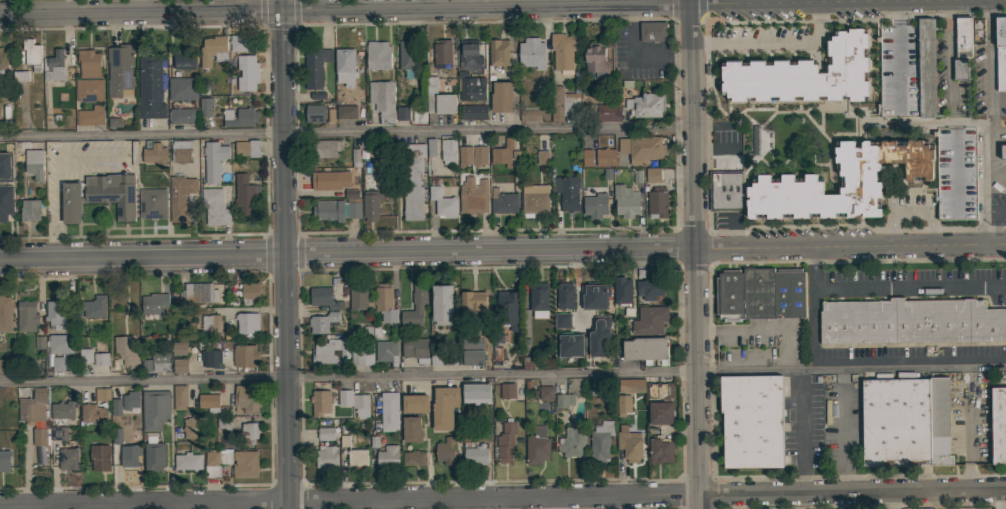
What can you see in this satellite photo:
road: (926, 0)
road: (140, 6)
road: (494, 7)
building: (652, 31)
building: (1001, 33)
building: (963, 38)
building: (243, 42)
road: (770, 42)
building: (213, 50)
building: (499, 53)
building: (531, 53)
building: (32, 54)
building: (442, 54)
building: (564, 54)
building: (378, 55)
building: (469, 55)
building: (408, 56)
building: (184, 59)
building: (595, 59)
building: (89, 64)
building: (3, 65)
building: (54, 66)
building: (314, 67)
building: (344, 68)
building: (926, 68)
building: (960, 69)
building: (120, 70)
building: (1001, 70)
building: (247, 72)
building: (803, 74)
building: (20, 76)
building: (151, 88)
building: (471, 88)
building: (182, 89)
building: (89, 90)
building: (317, 96)
building: (501, 97)
building: (439, 99)
building: (383, 100)
building: (563, 103)
building: (205, 106)
building: (645, 107)
building: (588, 109)
building: (0, 111)
building: (346, 112)
building: (474, 112)
building: (607, 113)
building: (402, 114)
building: (419, 114)
building: (313, 115)
building: (530, 115)
building: (91, 116)
building: (182, 116)
building: (330, 116)
building: (240, 117)
road: (990, 122)
building: (112, 123)
road: (998, 123)
road: (712, 126)
road: (706, 127)
road: (345, 132)
building: (363, 146)
building: (429, 147)
building: (248, 148)
building: (325, 148)
building: (641, 149)
building: (180, 151)
road: (714, 151)
building: (446, 152)
building: (1003, 152)
building: (154, 153)
building: (501, 155)
building: (464, 156)
building: (479, 156)
building: (598, 157)
building: (512, 158)
building: (541, 158)
building: (7, 159)
building: (354, 159)
building: (214, 161)
building: (34, 164)
building: (3, 167)
building: (653, 175)
building: (410, 179)
building: (787, 179)
building: (330, 180)
building: (725, 190)
building: (954, 191)
building: (567, 192)
building: (245, 195)
building: (350, 195)
building: (473, 196)
building: (114, 198)
building: (181, 198)
building: (5, 201)
building: (626, 201)
building: (533, 202)
building: (657, 202)
building: (502, 203)
building: (442, 204)
building: (596, 205)
building: (369, 206)
building: (214, 207)
road: (910, 209)
building: (30, 210)
building: (337, 211)
road: (930, 234)
road: (890, 235)
road: (850, 247)
road: (285, 254)
road: (694, 254)
road: (346, 255)
road: (813, 267)
road: (909, 286)
building: (649, 289)
building: (621, 292)
building: (249, 293)
building: (773, 293)
building: (196, 294)
building: (729, 295)
road: (40, 296)
building: (565, 296)
building: (594, 296)
building: (324, 298)
building: (359, 298)
building: (539, 300)
building: (385, 302)
building: (442, 304)
building: (473, 304)
building: (152, 305)
building: (130, 306)
building: (415, 306)
building: (94, 307)
building: (508, 309)
building: (5, 314)
building: (27, 315)
building: (55, 316)
building: (562, 320)
building: (649, 320)
building: (911, 321)
building: (322, 322)
building: (211, 324)
building: (246, 326)
road: (813, 329)
road: (705, 330)
building: (597, 339)
building: (38, 343)
building: (473, 343)
building: (60, 344)
road: (783, 344)
building: (571, 345)
building: (180, 348)
building: (415, 349)
building: (330, 350)
building: (645, 351)
building: (125, 352)
building: (386, 352)
building: (85, 355)
building: (243, 356)
building: (362, 357)
building: (443, 357)
building: (472, 357)
building: (101, 358)
building: (209, 359)
building: (161, 361)
building: (529, 363)
building: (58, 365)
building: (3, 366)
building: (145, 366)
building: (179, 366)
road: (709, 370)
road: (503, 375)
road: (807, 384)
building: (526, 385)
building: (631, 387)
building: (594, 389)
building: (507, 390)
building: (658, 391)
building: (476, 393)
building: (104, 394)
building: (545, 394)
building: (130, 398)
building: (178, 398)
building: (246, 399)
building: (208, 402)
building: (320, 402)
building: (354, 402)
building: (562, 402)
building: (415, 404)
building: (623, 405)
building: (33, 406)
building: (444, 407)
building: (113, 408)
building: (62, 410)
building: (154, 410)
building: (389, 411)
building: (660, 413)
building: (93, 414)
building: (941, 420)
building: (752, 421)
building: (896, 422)
building: (222, 423)
building: (998, 425)
building: (191, 428)
building: (412, 429)
road: (842, 431)
building: (250, 432)
building: (59, 433)
building: (332, 436)
building: (38, 437)
building: (116, 437)
building: (506, 441)
building: (600, 441)
building: (572, 442)
road: (801, 445)
building: (629, 446)
building: (537, 447)
building: (660, 450)
building: (446, 451)
building: (475, 453)
building: (39, 455)
building: (153, 455)
building: (129, 456)
building: (326, 457)
building: (387, 457)
building: (67, 458)
building: (99, 458)
building: (357, 458)
building: (414, 458)
building: (5, 461)
building: (187, 463)
building: (215, 463)
building: (244, 464)
road: (502, 497)
road: (998, 499)
road: (894, 500)

